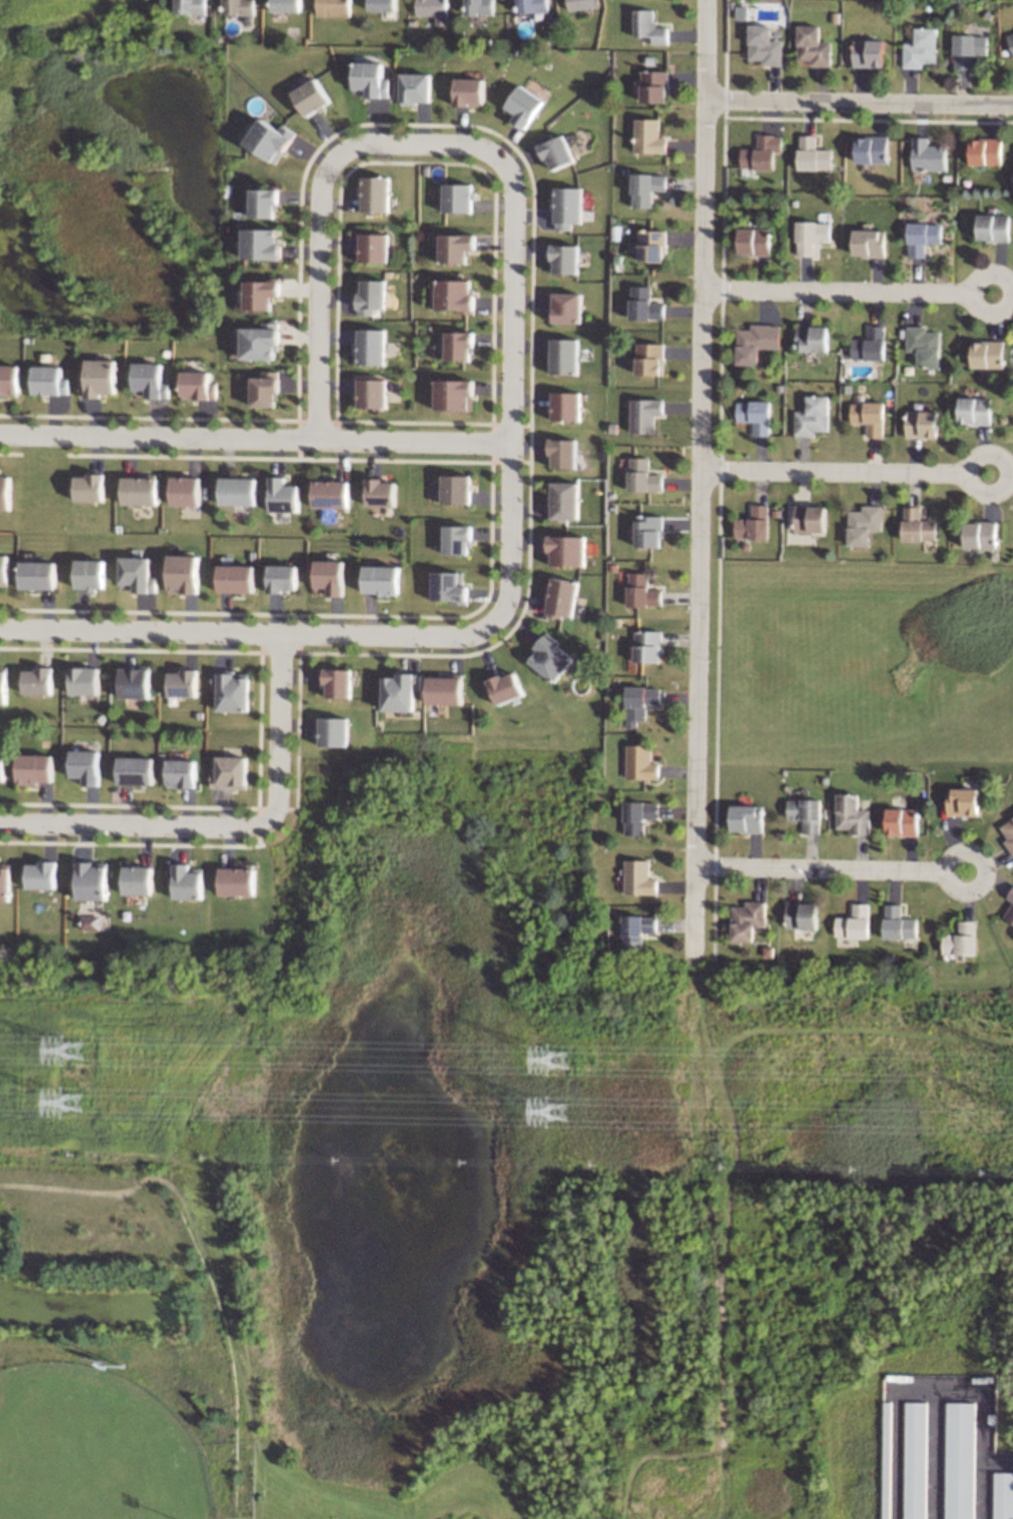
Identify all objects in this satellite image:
building: (582, 4)
building: (382, 5)
building: (190, 6)
building: (532, 6)
building: (238, 7)
building: (333, 7)
building: (479, 7)
building: (433, 9)
building: (649, 26)
building: (1010, 40)
building: (764, 45)
building: (813, 46)
building: (920, 48)
building: (967, 49)
building: (868, 53)
building: (370, 79)
building: (654, 85)
building: (415, 88)
building: (469, 91)
building: (311, 97)
road: (861, 102)
building: (522, 105)
building: (649, 136)
building: (269, 139)
building: (872, 149)
building: (555, 151)
building: (985, 151)
building: (762, 152)
building: (813, 154)
building: (927, 155)
building: (646, 187)
building: (375, 193)
building: (458, 197)
building: (264, 203)
road: (318, 204)
building: (567, 207)
building: (992, 227)
building: (811, 236)
building: (921, 237)
building: (754, 241)
building: (869, 242)
building: (262, 244)
building: (652, 245)
building: (456, 247)
building: (374, 248)
building: (564, 258)
road: (850, 291)
building: (262, 293)
building: (372, 295)
building: (454, 295)
building: (645, 304)
building: (566, 307)
building: (812, 337)
building: (261, 341)
building: (756, 341)
building: (870, 344)
building: (459, 345)
building: (923, 345)
building: (372, 346)
building: (987, 354)
building: (565, 356)
building: (651, 358)
building: (99, 378)
building: (9, 380)
building: (48, 380)
building: (150, 380)
building: (198, 385)
building: (266, 388)
building: (372, 393)
building: (454, 394)
road: (509, 395)
building: (566, 406)
building: (975, 410)
building: (645, 414)
building: (755, 415)
building: (812, 416)
building: (869, 416)
building: (922, 423)
road: (254, 436)
building: (562, 453)
road: (848, 473)
building: (643, 475)
road: (702, 481)
building: (88, 487)
building: (456, 488)
building: (138, 489)
building: (184, 490)
building: (237, 490)
building: (4, 492)
building: (380, 492)
building: (329, 493)
building: (282, 495)
building: (563, 500)
building: (810, 518)
building: (754, 523)
building: (864, 524)
building: (918, 525)
building: (648, 530)
building: (980, 533)
building: (457, 539)
building: (566, 550)
building: (3, 569)
building: (37, 574)
building: (89, 574)
building: (137, 574)
building: (183, 574)
building: (328, 576)
building: (235, 578)
building: (281, 578)
building: (381, 580)
building: (448, 587)
building: (642, 591)
building: (561, 596)
road: (248, 634)
building: (647, 646)
building: (551, 658)
building: (37, 680)
building: (134, 682)
building: (336, 682)
building: (182, 683)
building: (3, 684)
building: (506, 687)
building: (444, 689)
building: (230, 690)
building: (399, 691)
building: (639, 702)
building: (332, 731)
building: (641, 762)
building: (1, 766)
building: (85, 766)
building: (34, 768)
building: (135, 770)
building: (229, 772)
building: (180, 773)
building: (963, 801)
building: (805, 813)
building: (851, 814)
building: (639, 815)
building: (746, 818)
building: (902, 821)
road: (229, 828)
building: (1009, 833)
road: (833, 869)
building: (40, 874)
building: (639, 877)
building: (136, 878)
building: (89, 879)
building: (236, 879)
building: (185, 880)
building: (1011, 895)
building: (1010, 913)
building: (801, 915)
building: (747, 920)
building: (89, 922)
building: (898, 923)
building: (853, 924)
building: (637, 929)
building: (961, 939)
power tower: (74, 1042)
power tower: (560, 1050)
power tower: (74, 1097)
power tower: (566, 1108)
park: (96, 1449)
building: (914, 1460)
building: (959, 1460)
building: (1003, 1495)

